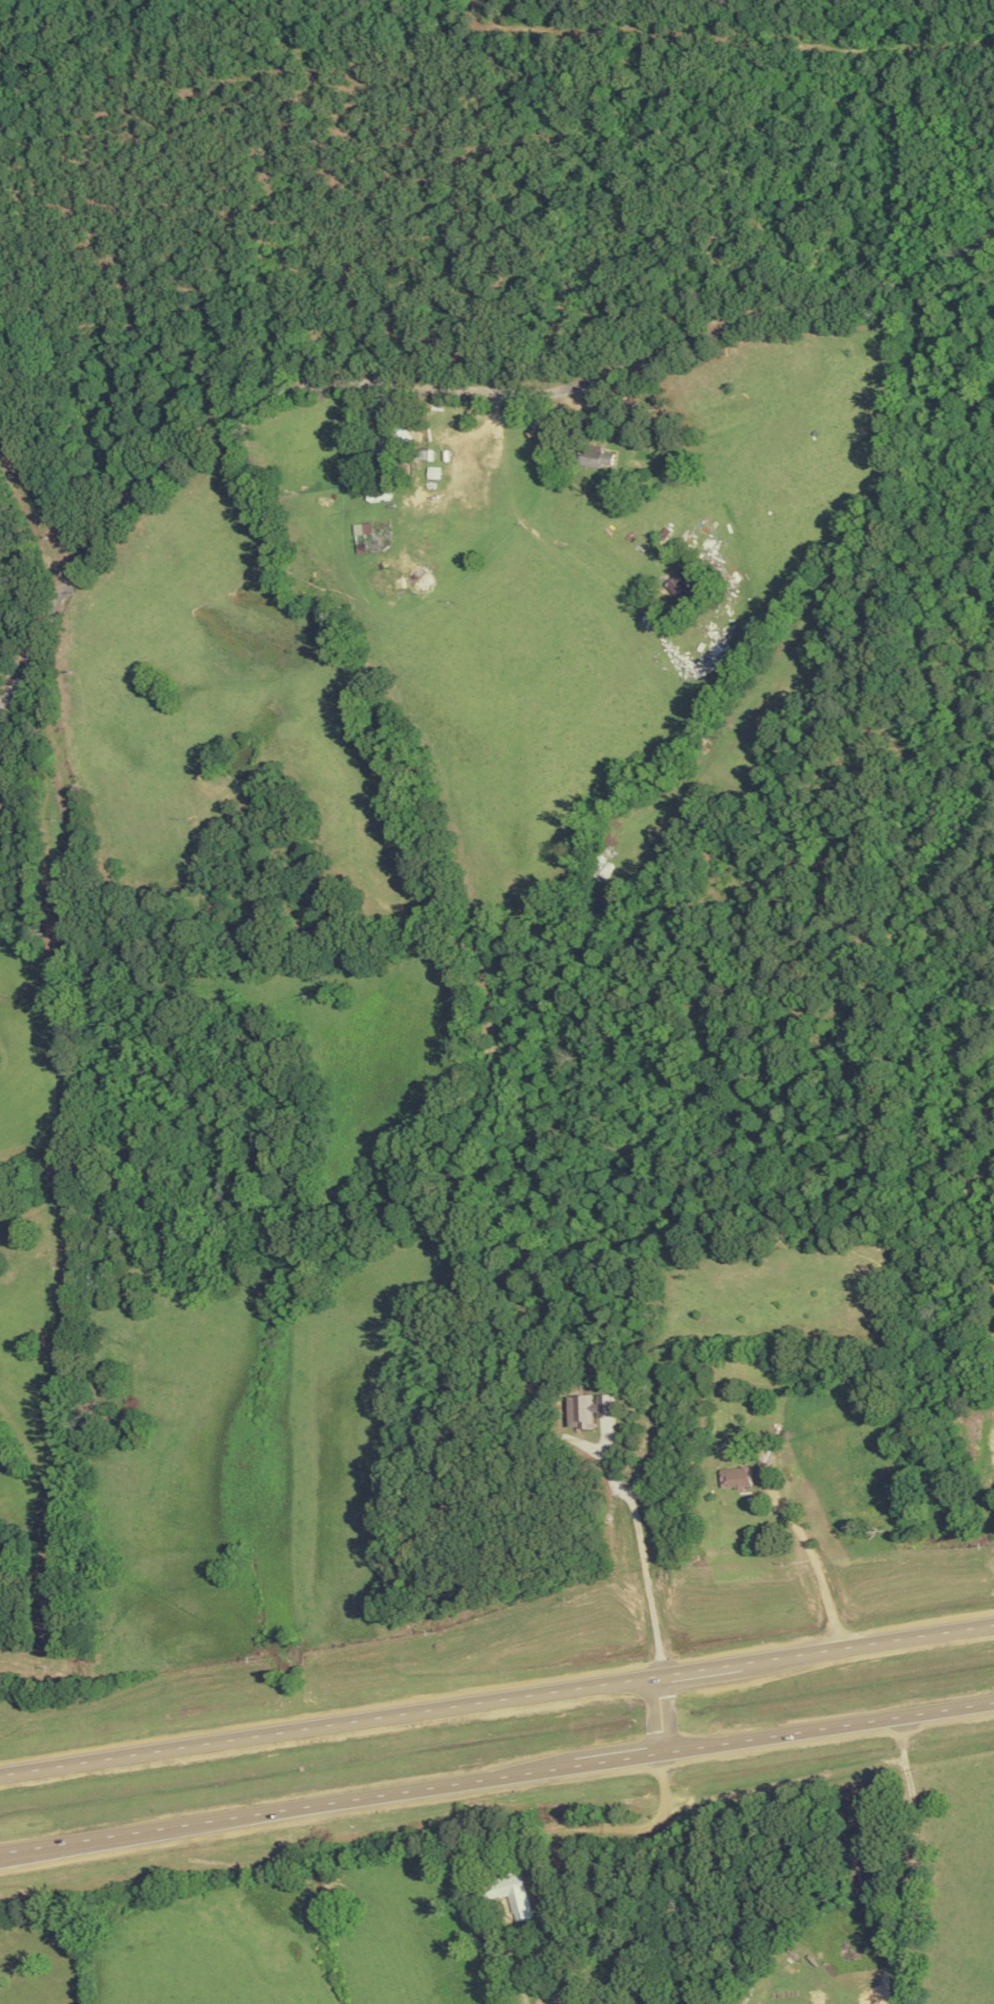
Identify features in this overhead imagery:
road: (437, 387)
building: (599, 456)
building: (680, 585)
building: (742, 1477)
road: (812, 1557)
road: (645, 1583)
road: (626, 1680)
road: (661, 1712)
road: (830, 1723)
road: (129, 1753)
road: (333, 1801)
road: (917, 1850)
building: (508, 1884)

